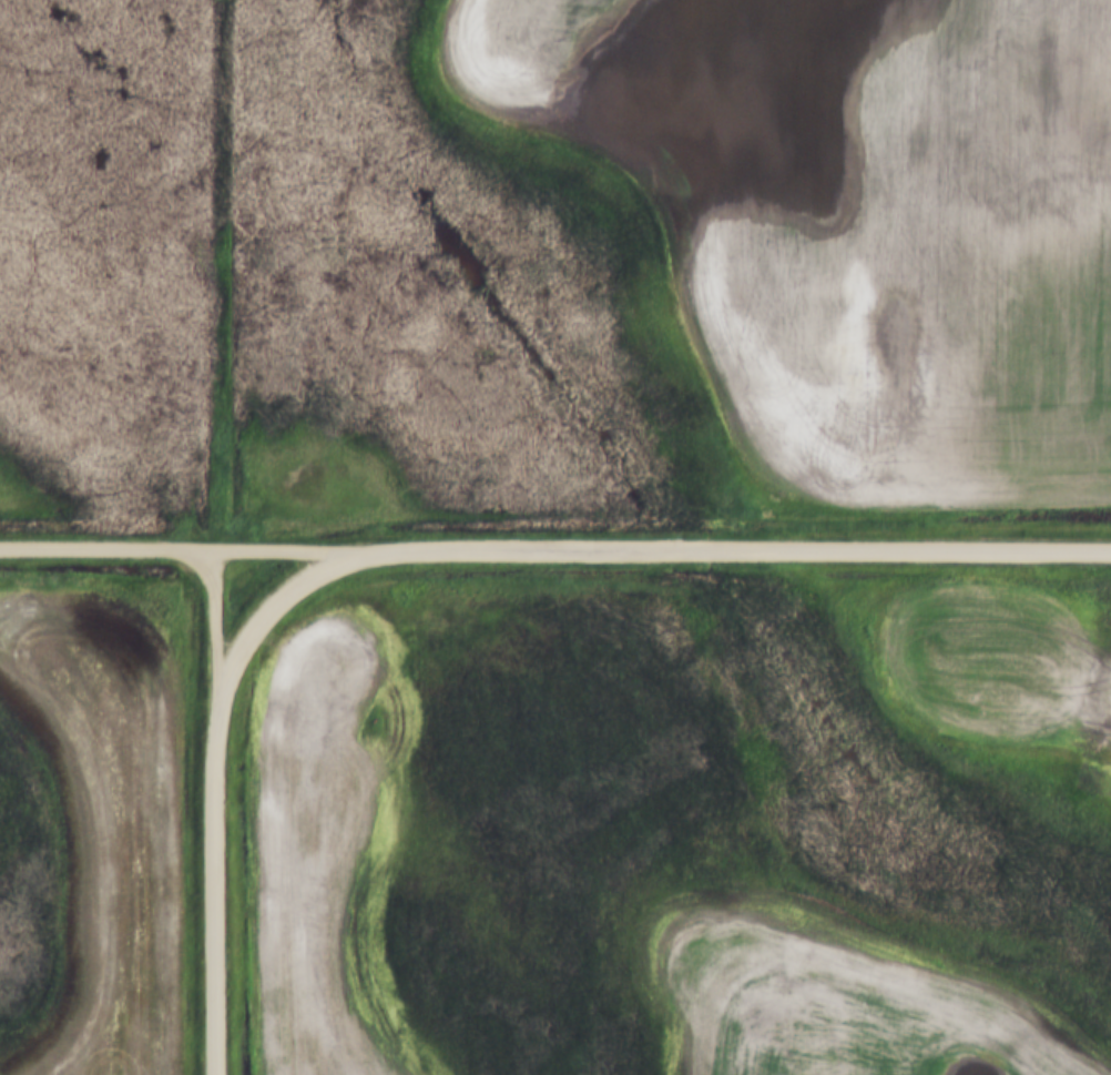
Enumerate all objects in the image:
road: (185, 550)
road: (741, 552)
road: (267, 610)
road: (214, 635)
road: (214, 896)

